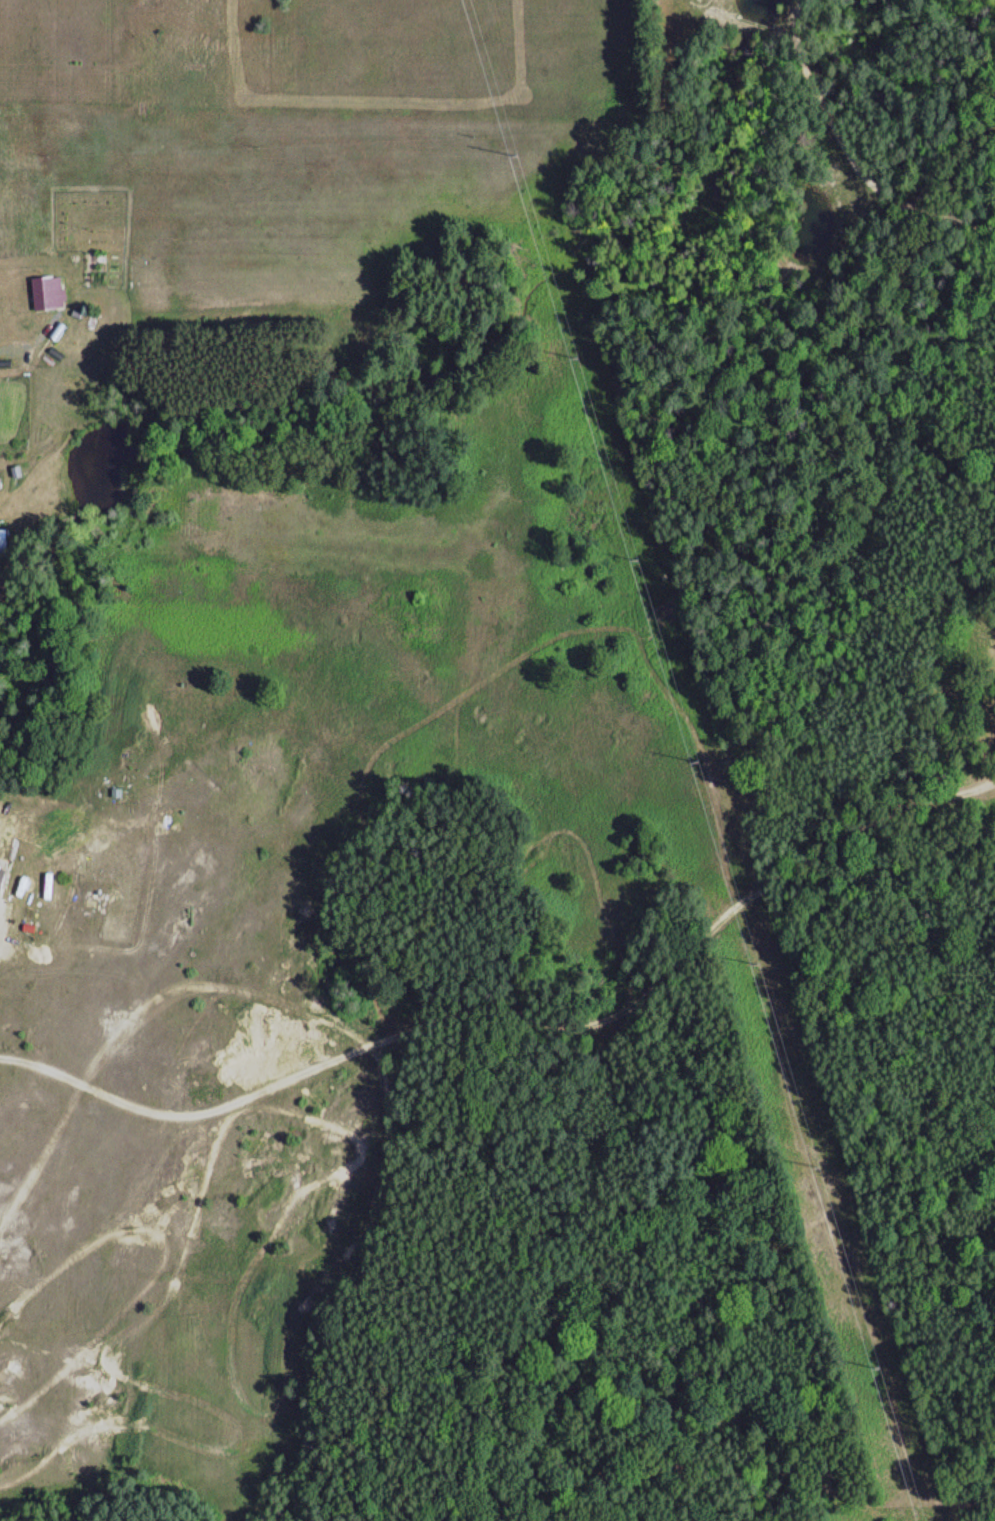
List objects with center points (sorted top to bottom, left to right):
building: (49, 293)
building: (6, 543)
building: (5, 879)
road: (507, 1233)

